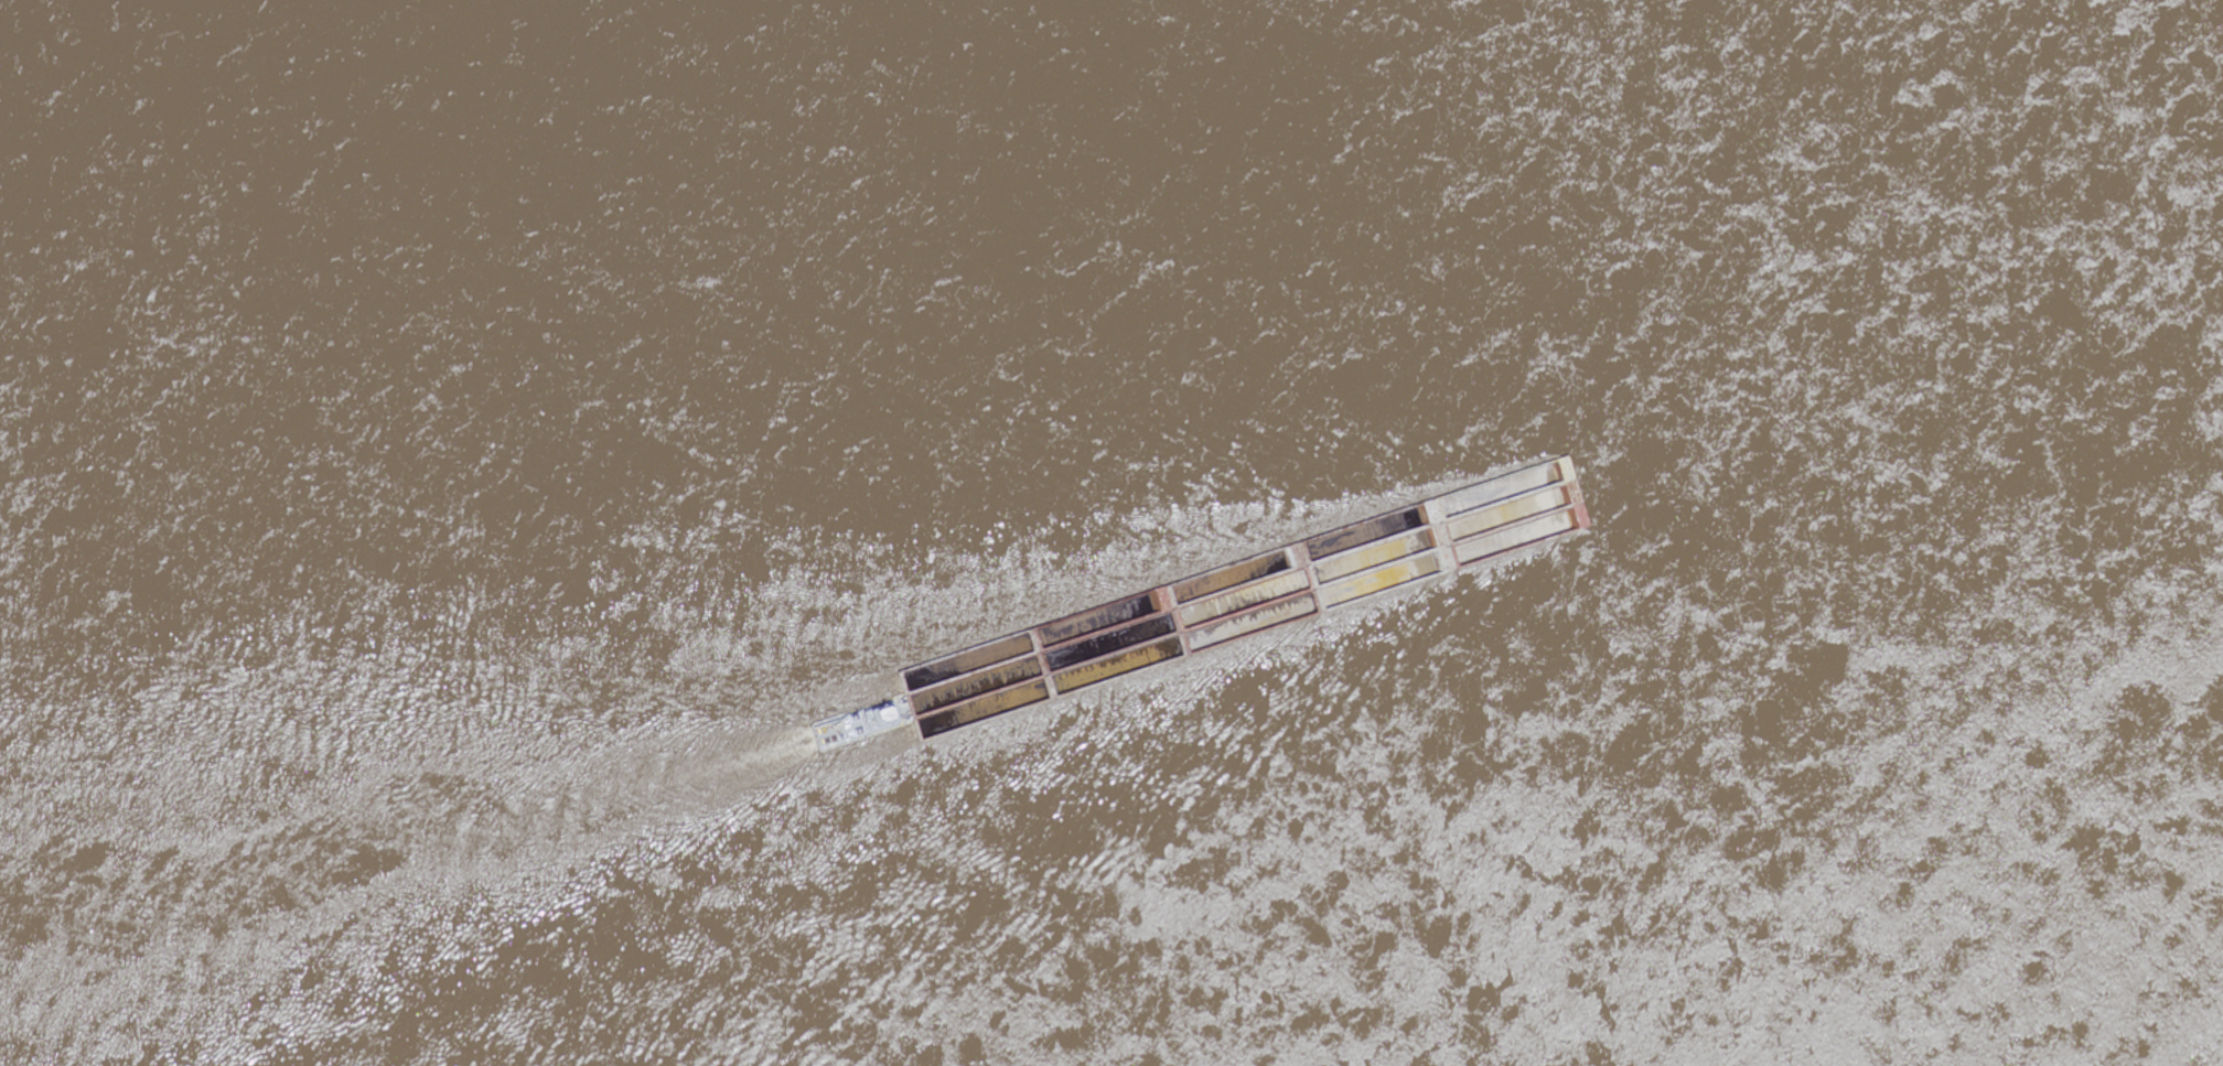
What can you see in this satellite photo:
river: (2016, 994)

